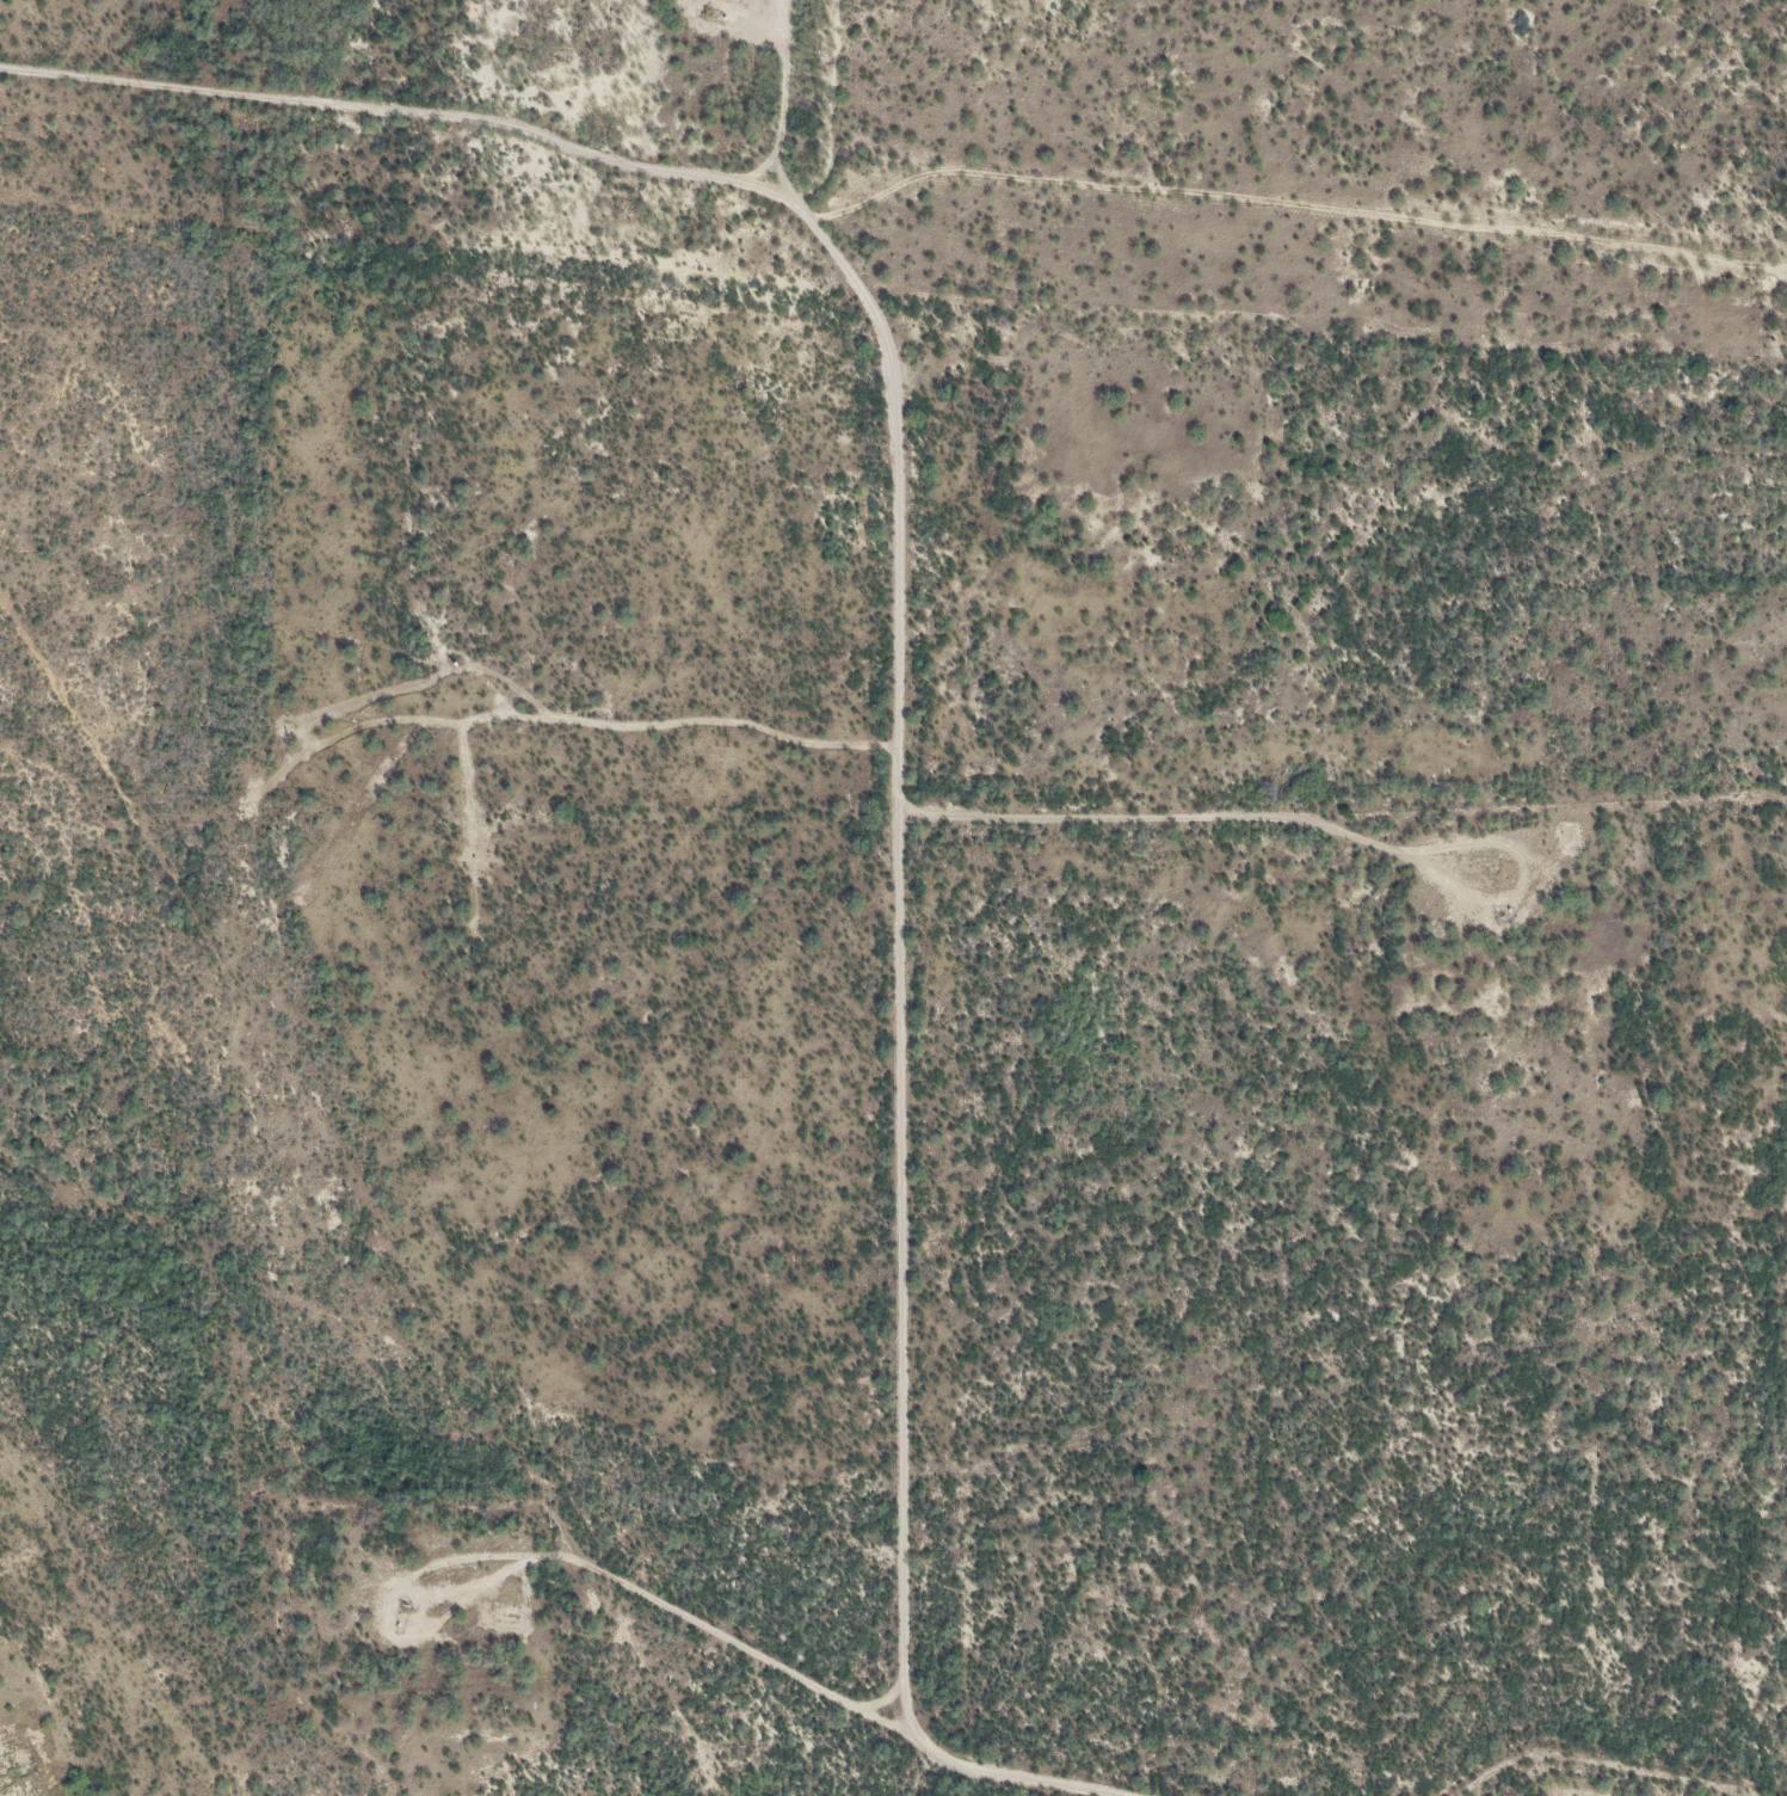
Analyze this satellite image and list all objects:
road: (893, 170)

